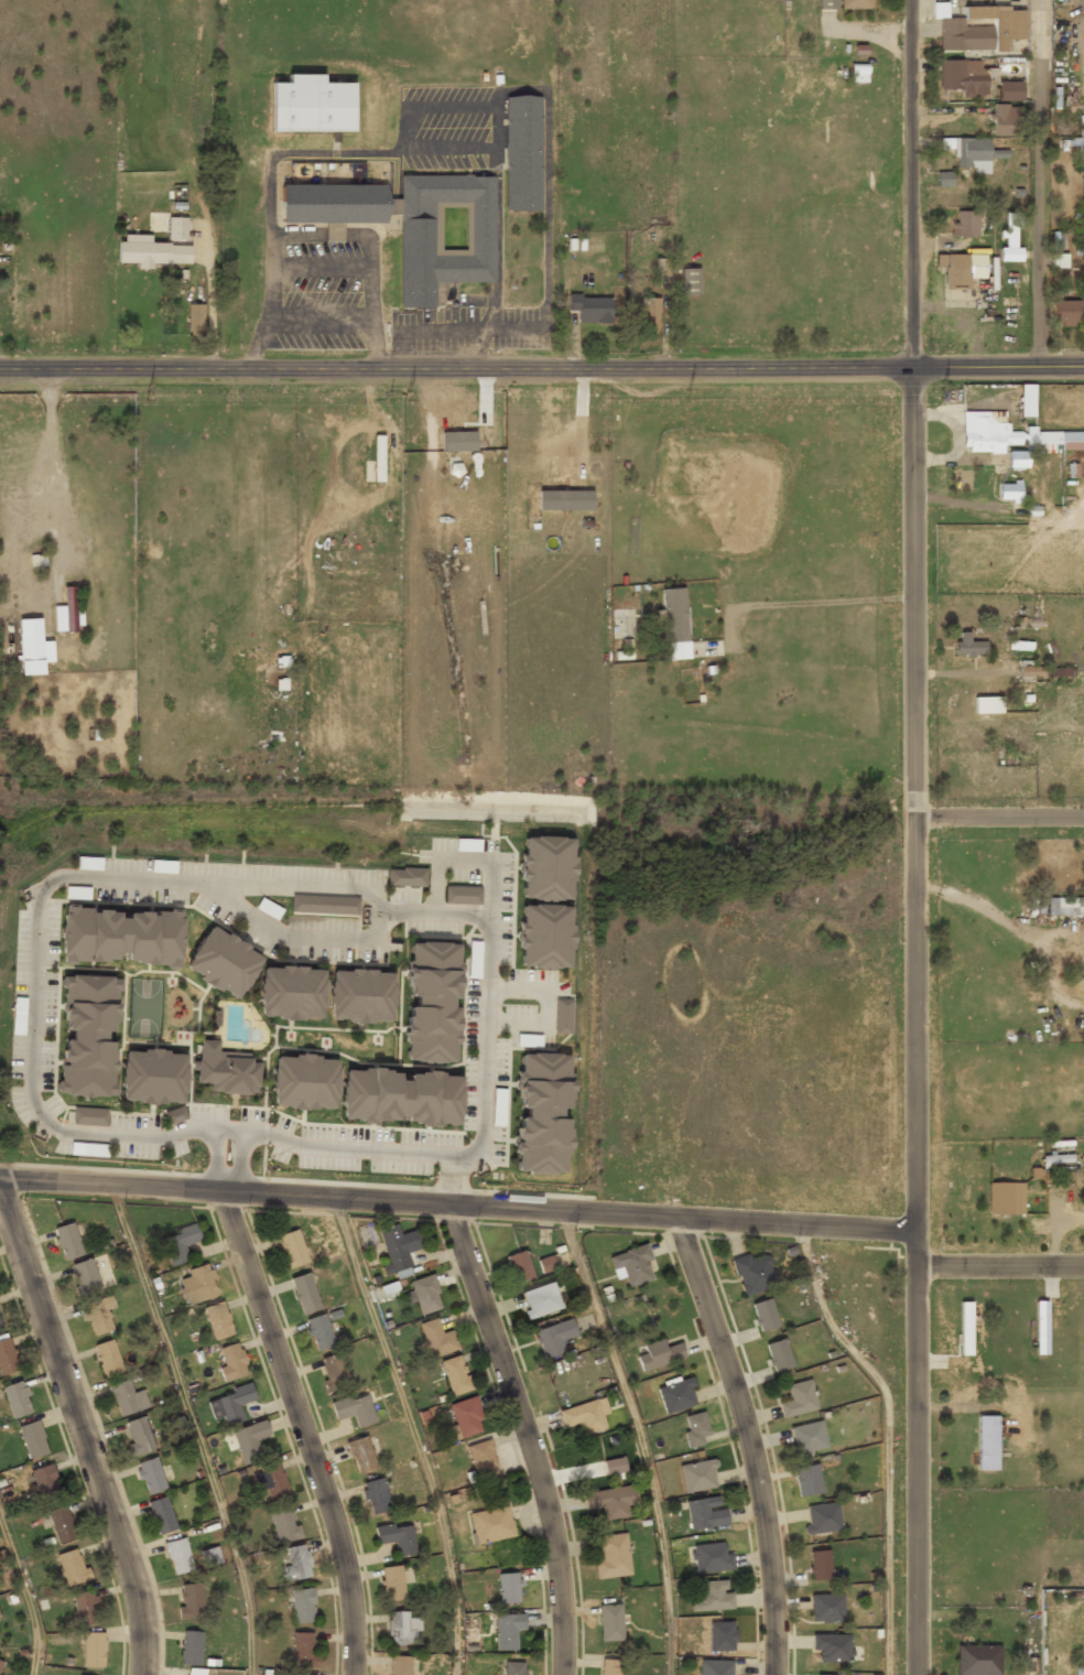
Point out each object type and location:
building: (827, 3)
building: (856, 3)
building: (979, 29)
building: (857, 73)
building: (963, 77)
building: (1009, 90)
building: (312, 105)
building: (1007, 120)
building: (523, 154)
building: (972, 155)
building: (944, 179)
road: (1040, 183)
building: (965, 224)
building: (414, 225)
building: (177, 228)
building: (334, 236)
building: (1010, 238)
building: (151, 251)
building: (1060, 260)
building: (960, 269)
building: (690, 281)
building: (593, 310)
building: (650, 314)
building: (1066, 314)
building: (195, 317)
road: (542, 368)
power tower: (942, 392)
power tower: (687, 395)
power tower: (145, 396)
power tower: (408, 397)
building: (1027, 402)
building: (1013, 436)
building: (1017, 462)
building: (375, 463)
building: (1009, 494)
building: (66, 613)
road: (912, 616)
building: (675, 625)
building: (969, 646)
building: (31, 655)
building: (1030, 671)
building: (282, 676)
building: (988, 705)
road: (998, 817)
building: (548, 868)
building: (406, 878)
road: (113, 879)
building: (463, 897)
building: (326, 906)
building: (1066, 908)
building: (97, 937)
building: (545, 937)
building: (223, 964)
building: (292, 988)
building: (356, 997)
building: (432, 1003)
building: (562, 1016)
building: (88, 1037)
building: (226, 1072)
building: (154, 1078)
building: (375, 1098)
building: (543, 1114)
building: (175, 1115)
building: (89, 1116)
building: (90, 1150)
building: (1006, 1199)
road: (457, 1206)
building: (68, 1242)
building: (180, 1245)
building: (292, 1250)
building: (399, 1250)
road: (917, 1250)
building: (546, 1264)
building: (632, 1266)
road: (1000, 1266)
building: (520, 1267)
building: (755, 1274)
building: (86, 1276)
building: (197, 1286)
building: (388, 1290)
building: (305, 1295)
building: (426, 1296)
building: (542, 1301)
building: (98, 1316)
building: (766, 1316)
building: (218, 1321)
building: (1, 1326)
building: (1041, 1327)
building: (965, 1328)
building: (321, 1333)
building: (437, 1339)
building: (554, 1339)
building: (659, 1355)
building: (779, 1357)
building: (7, 1359)
building: (108, 1359)
building: (232, 1362)
building: (335, 1372)
building: (456, 1376)
building: (676, 1396)
building: (17, 1400)
building: (127, 1400)
building: (799, 1401)
building: (232, 1404)
building: (356, 1411)
building: (585, 1417)
building: (467, 1418)
road: (194, 1427)
road: (82, 1428)
road: (303, 1430)
building: (696, 1430)
road: (414, 1433)
building: (139, 1436)
road: (528, 1436)
road: (888, 1437)
road: (641, 1438)
building: (809, 1438)
building: (33, 1440)
building: (250, 1440)
road: (749, 1441)
building: (982, 1446)
building: (361, 1456)
building: (484, 1461)
building: (615, 1467)
road: (918, 1471)
building: (151, 1477)
building: (698, 1477)
building: (45, 1481)
building: (807, 1481)
building: (271, 1482)
building: (377, 1495)
building: (611, 1502)
building: (706, 1514)
building: (162, 1515)
building: (823, 1520)
building: (62, 1524)
building: (285, 1526)
building: (491, 1526)
building: (399, 1537)
building: (178, 1556)
building: (210, 1556)
building: (611, 1556)
building: (712, 1558)
building: (297, 1564)
building: (820, 1566)
building: (73, 1567)
building: (393, 1585)
building: (509, 1589)
road: (25, 1596)
building: (714, 1598)
building: (192, 1600)
building: (86, 1607)
building: (303, 1607)
building: (827, 1610)
building: (610, 1623)
building: (401, 1630)
building: (508, 1632)
building: (723, 1638)
building: (833, 1647)
building: (192, 1649)
building: (94, 1650)
building: (305, 1650)
building: (0, 1658)
building: (978, 1661)
building: (400, 1666)
building: (610, 1667)
building: (717, 1667)
building: (514, 1669)
building: (1080, 1672)
building: (194, 1673)
building: (294, 1674)
building: (823, 1674)

